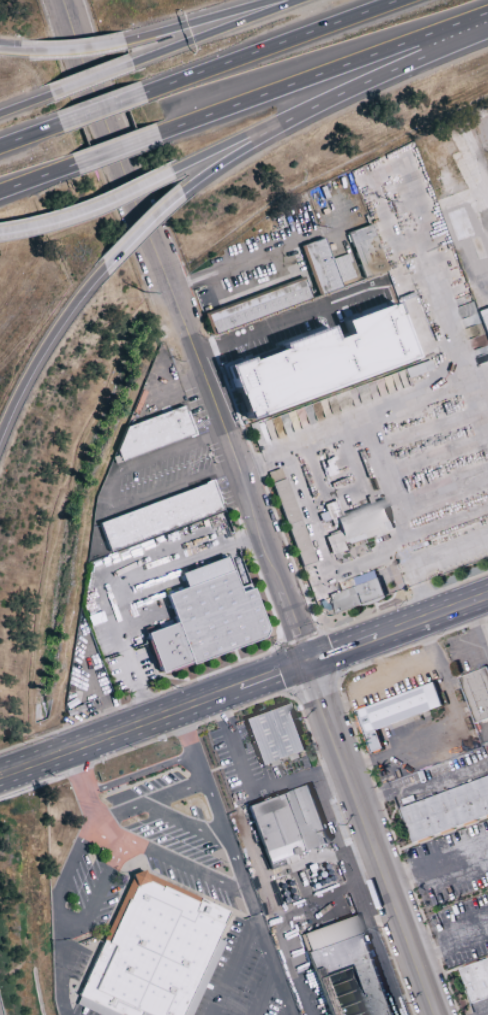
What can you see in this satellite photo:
road: (199, 21)
road: (216, 31)
road: (271, 47)
road: (12, 51)
road: (73, 51)
road: (390, 71)
road: (322, 74)
road: (90, 80)
road: (25, 105)
road: (101, 110)
road: (29, 136)
road: (233, 143)
road: (116, 149)
road: (238, 155)
road: (37, 178)
road: (101, 206)
road: (142, 230)
road: (12, 231)
building: (365, 252)
road: (245, 262)
building: (319, 267)
building: (342, 268)
building: (258, 307)
building: (484, 321)
road: (45, 349)
building: (321, 362)
road: (372, 412)
building: (153, 433)
road: (228, 438)
road: (113, 500)
building: (159, 516)
building: (292, 522)
building: (358, 527)
road: (422, 555)
building: (357, 592)
road: (431, 615)
building: (205, 618)
road: (124, 645)
road: (341, 649)
road: (389, 653)
road: (243, 662)
traffic signals: (308, 662)
road: (273, 675)
building: (476, 693)
building: (394, 711)
road: (450, 726)
building: (273, 734)
road: (119, 735)
road: (145, 744)
road: (140, 773)
road: (424, 786)
road: (85, 790)
road: (149, 800)
building: (445, 808)
road: (187, 824)
building: (287, 824)
road: (352, 852)
road: (172, 862)
road: (237, 862)
road: (437, 863)
road: (68, 874)
road: (99, 894)
road: (401, 918)
road: (451, 942)
building: (154, 953)
road: (234, 968)
building: (345, 969)
road: (61, 971)
building: (475, 976)
road: (426, 985)
road: (265, 992)

